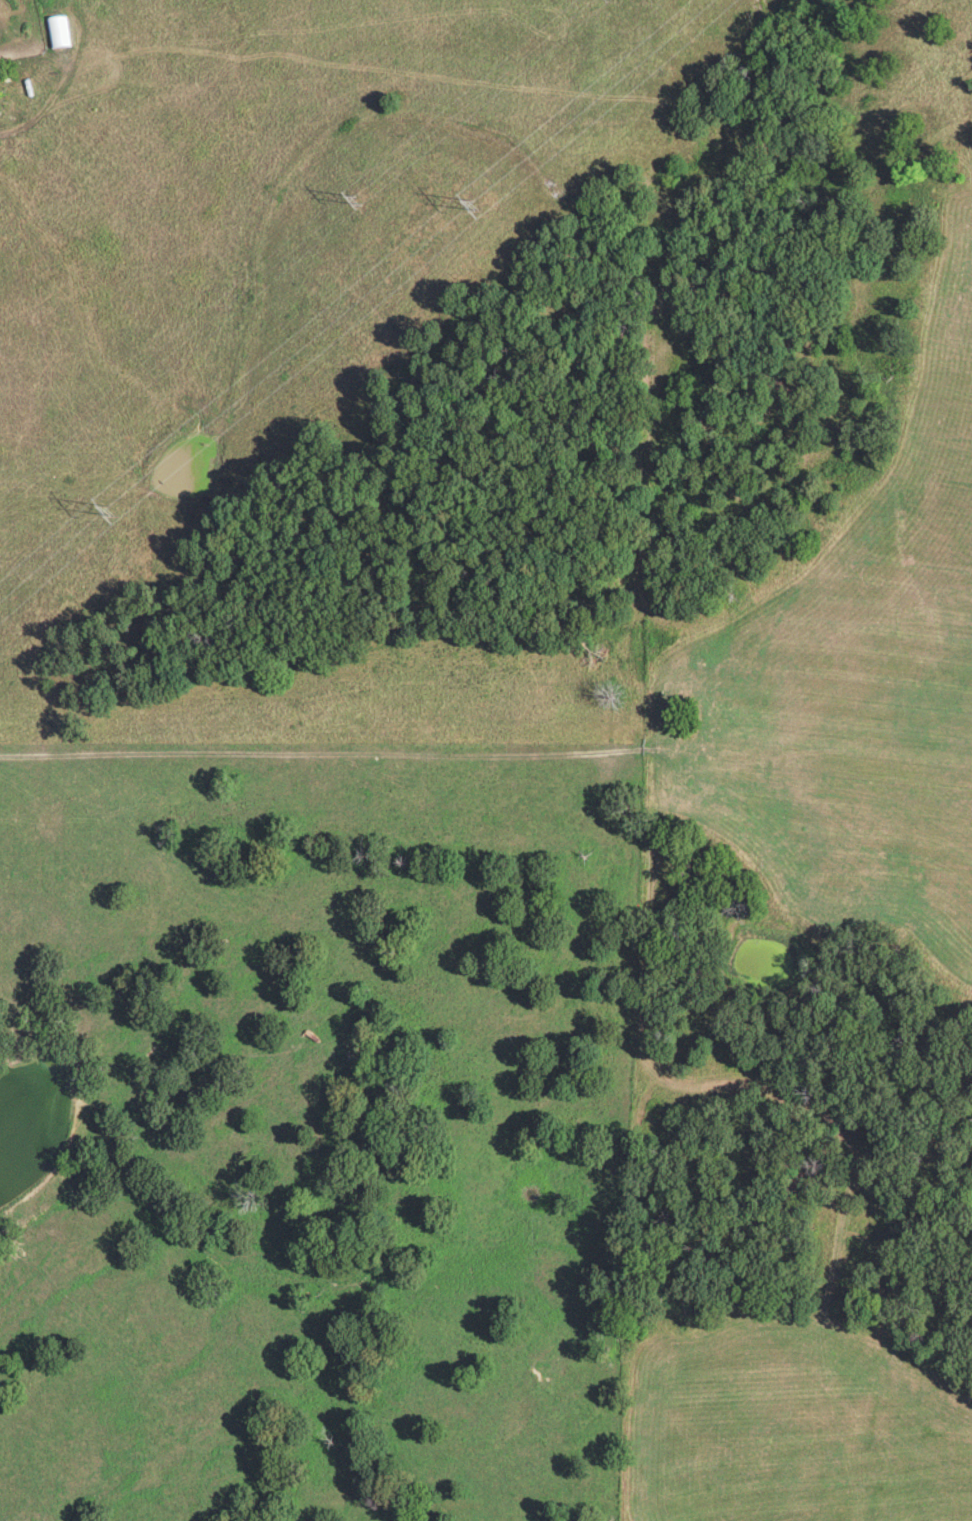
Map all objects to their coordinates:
building: (60, 31)
road: (12, 97)
power tower: (486, 204)
power tower: (122, 509)

